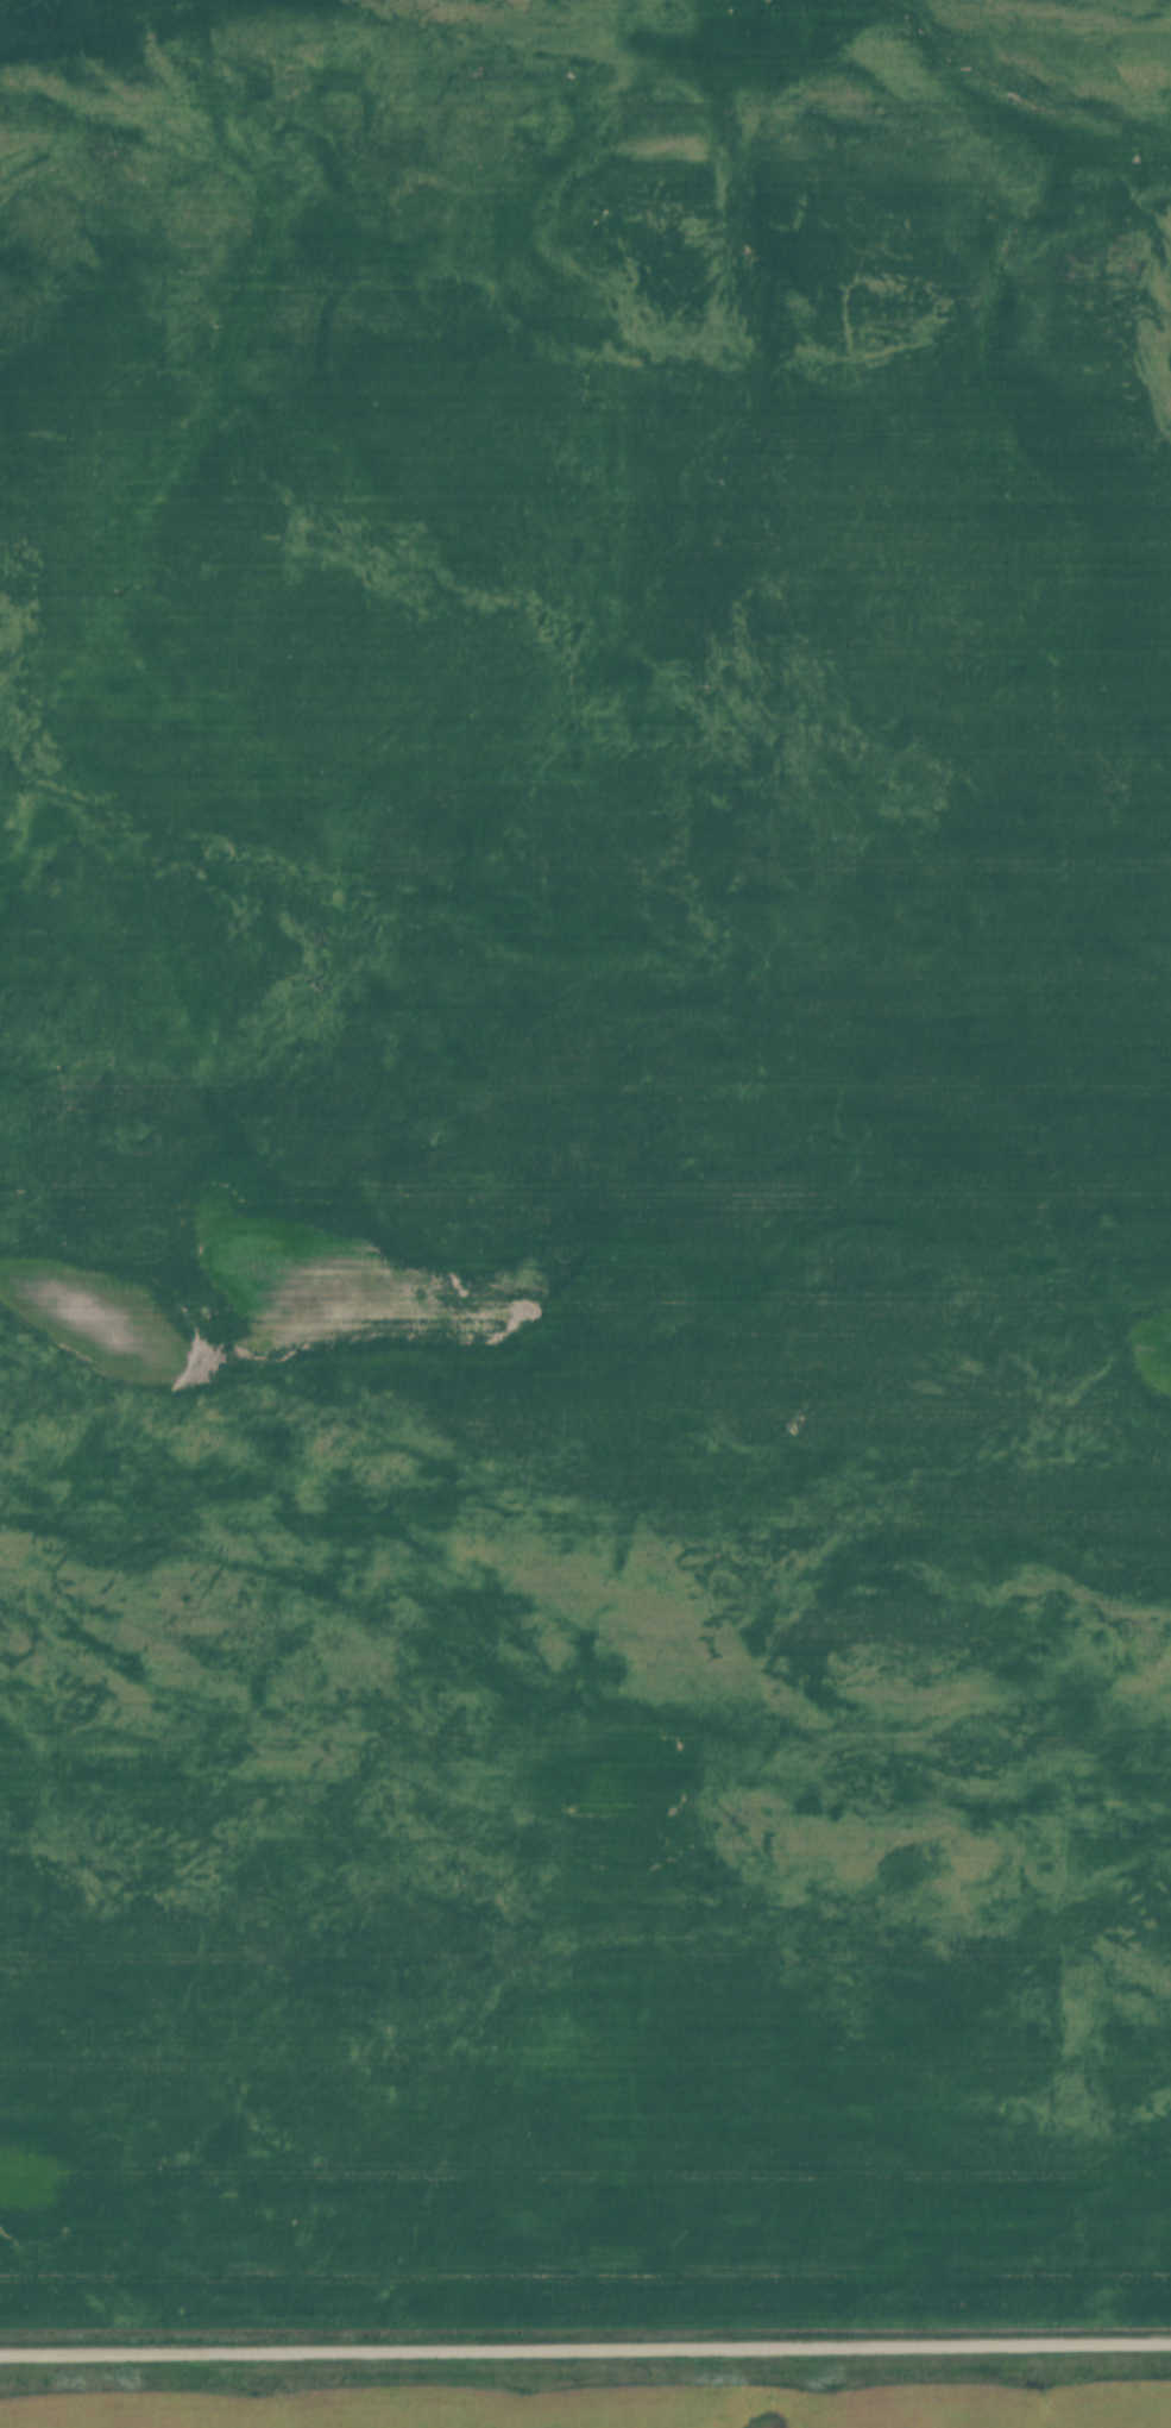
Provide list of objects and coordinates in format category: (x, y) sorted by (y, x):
road: (585, 2345)

